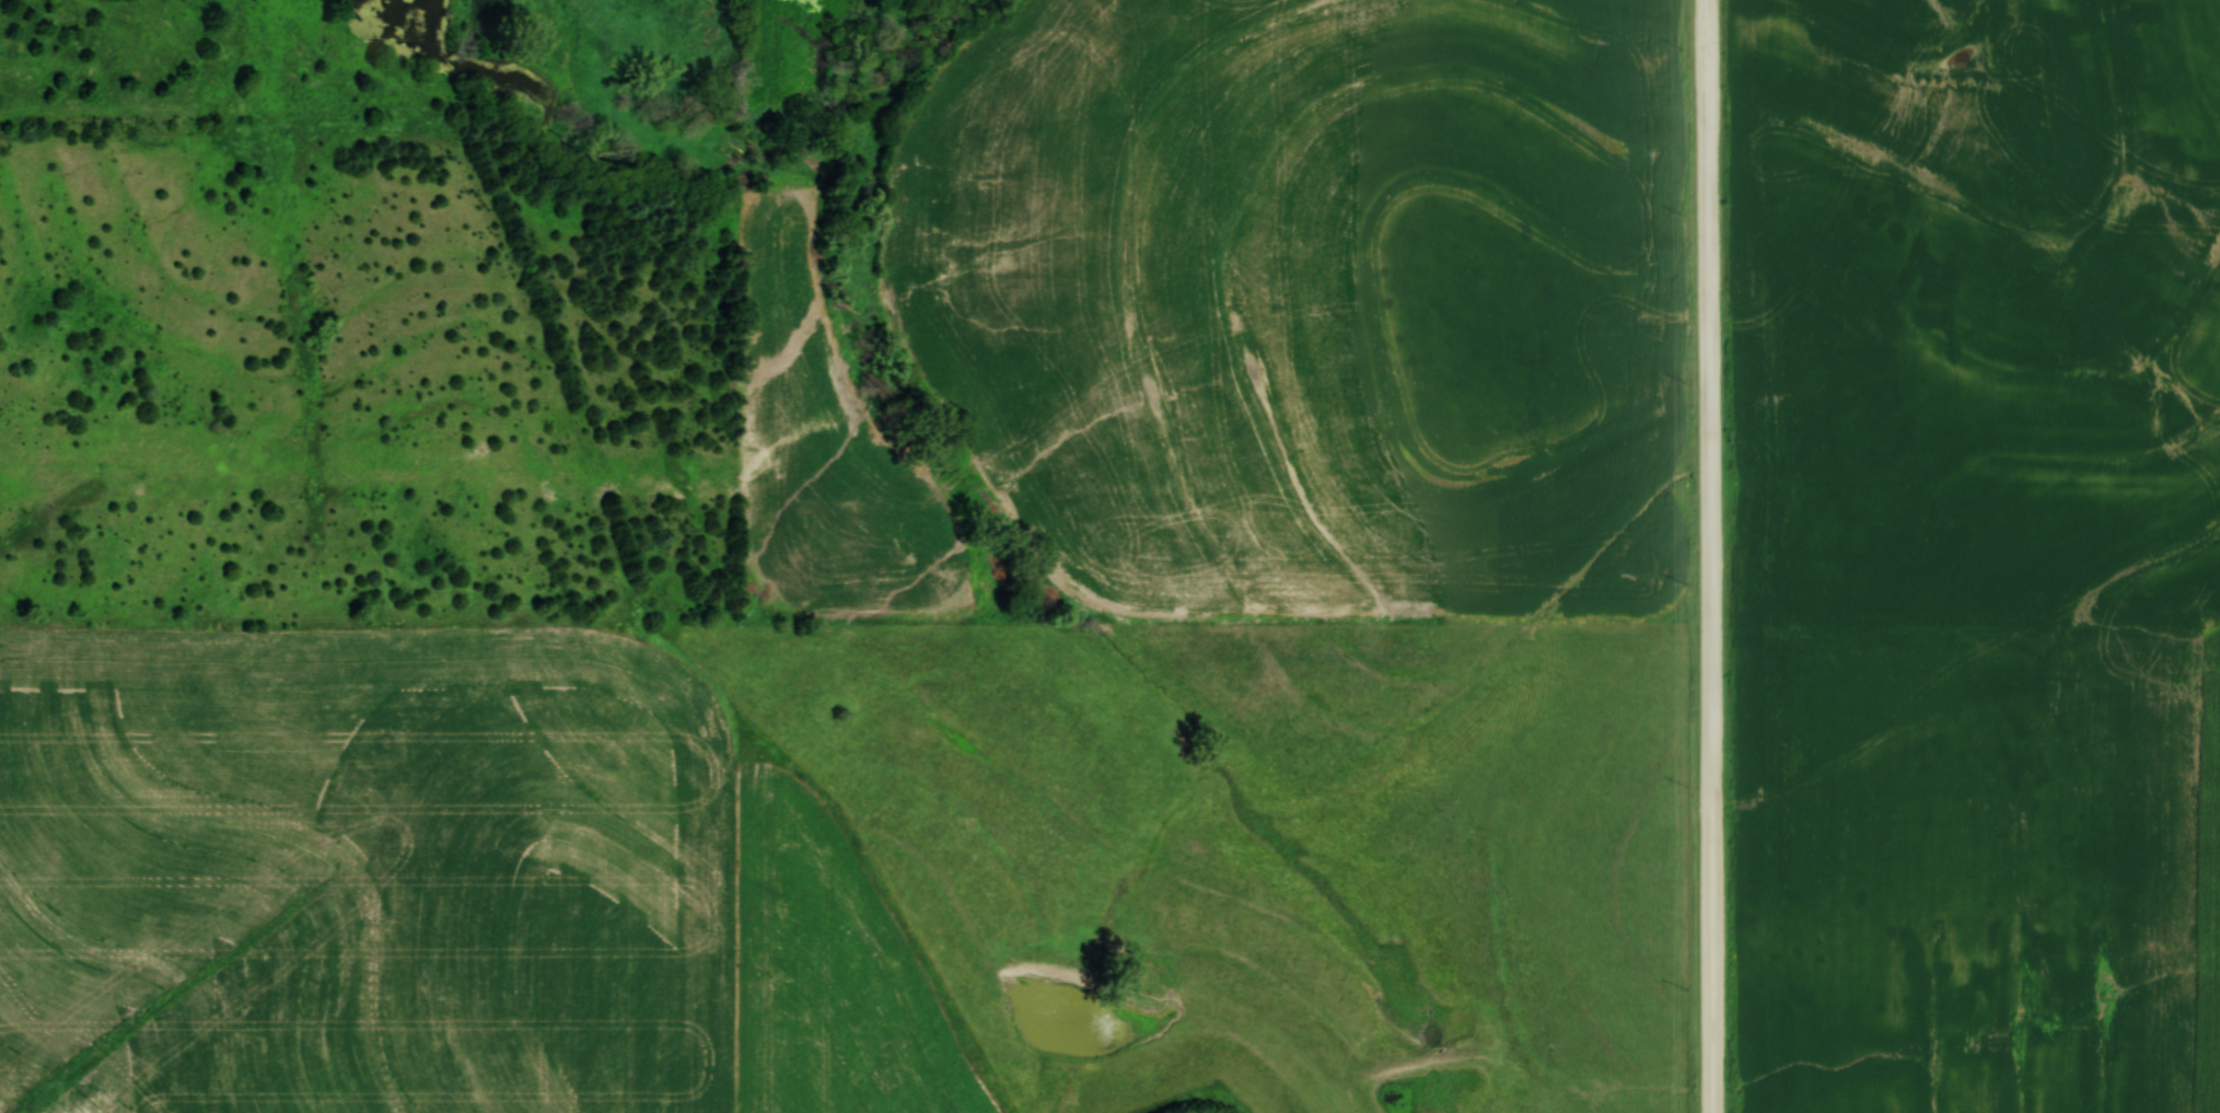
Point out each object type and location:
road: (1713, 556)

